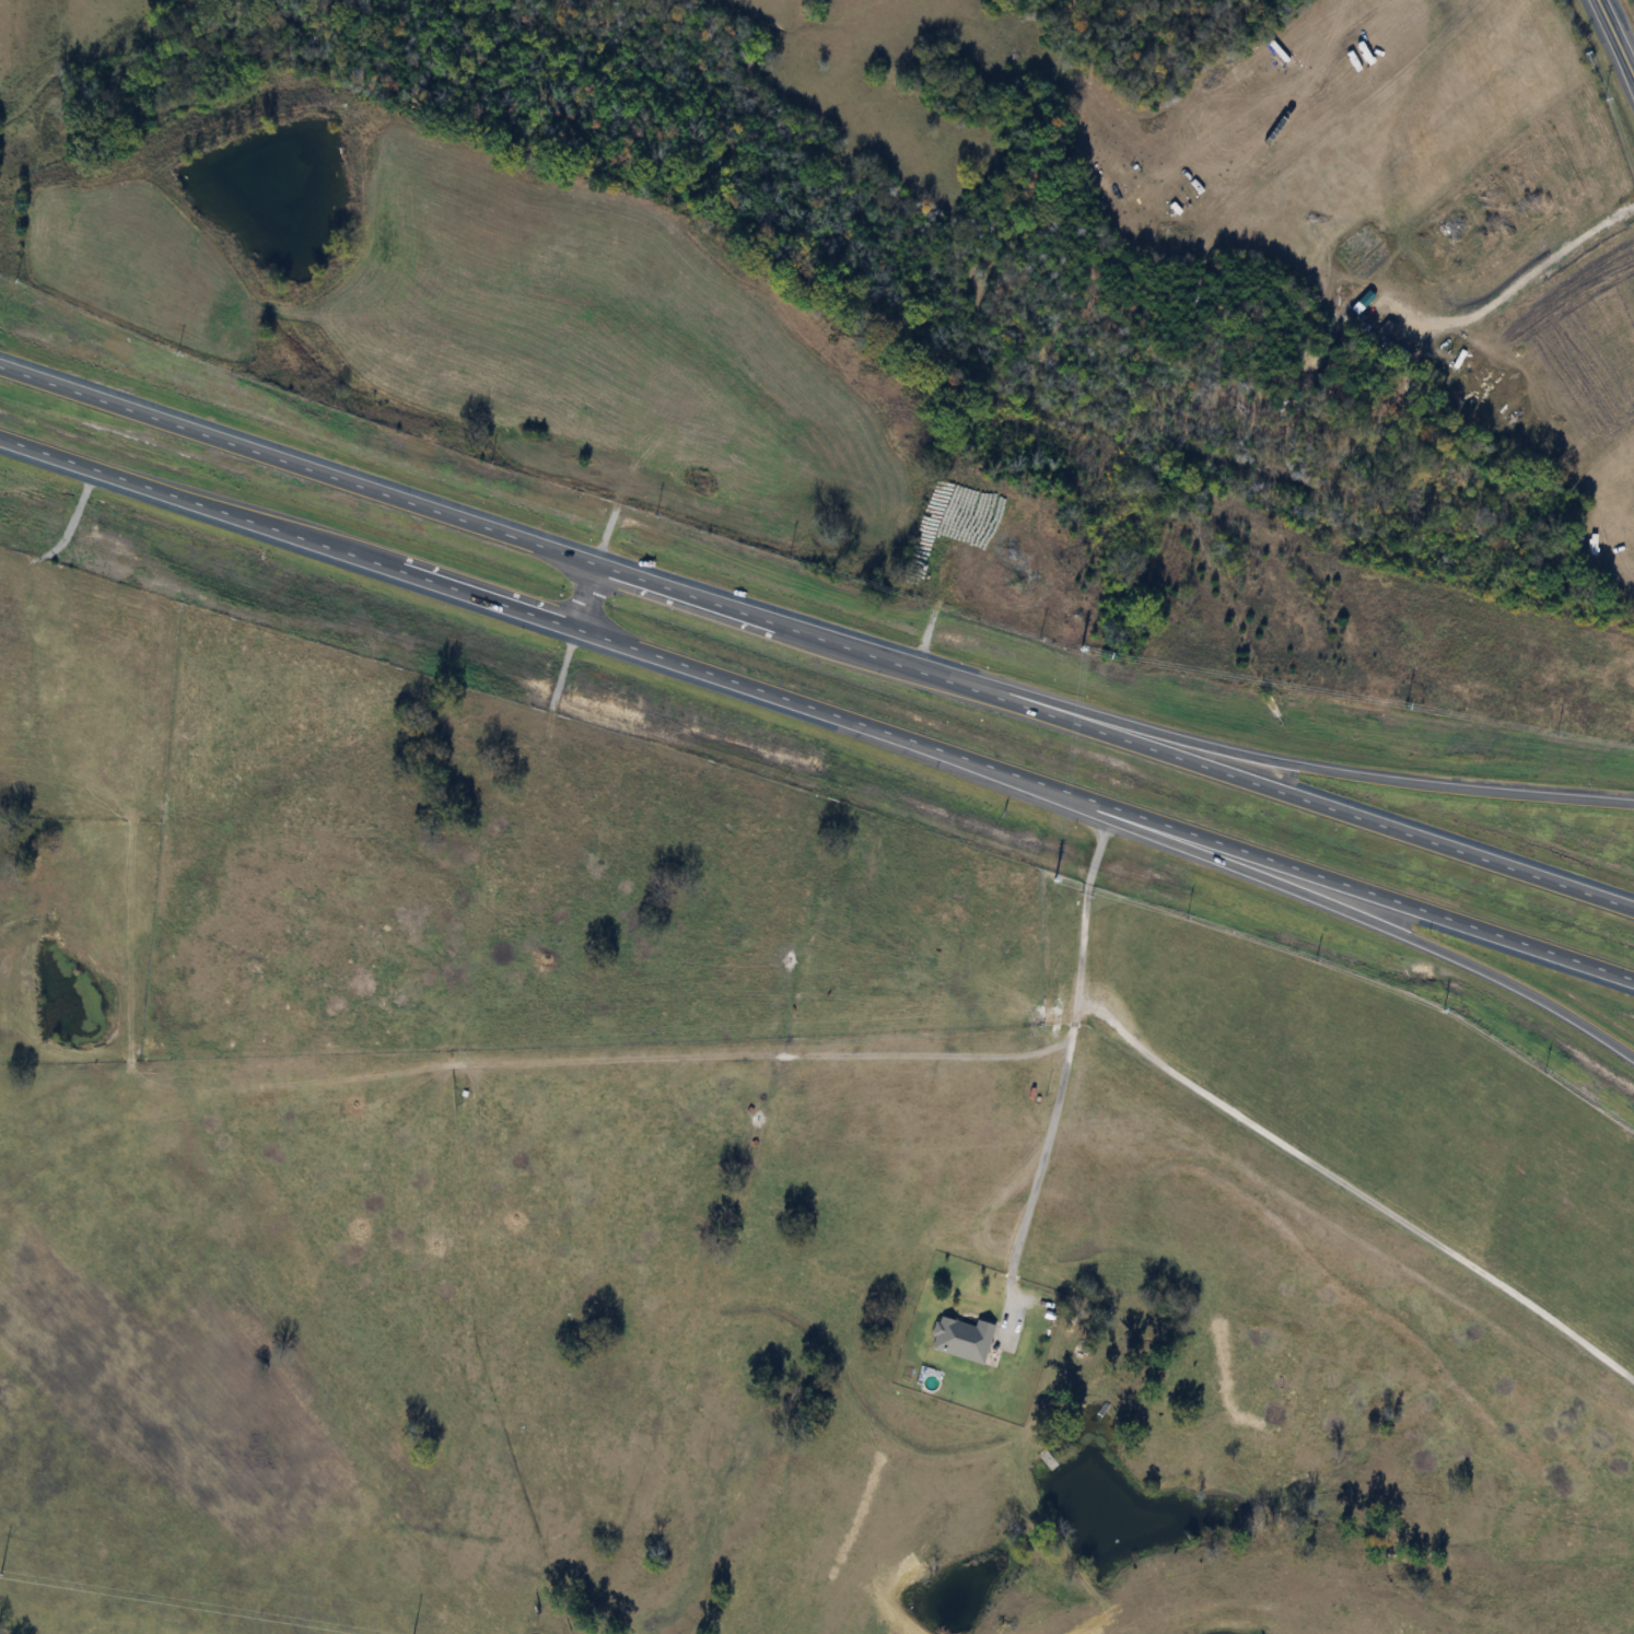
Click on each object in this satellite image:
road: (1612, 44)
road: (592, 597)
road: (817, 637)
road: (817, 705)
road: (1219, 736)
road: (1293, 885)
road: (1066, 1057)
building: (960, 1339)
power tower: (0, 1573)

